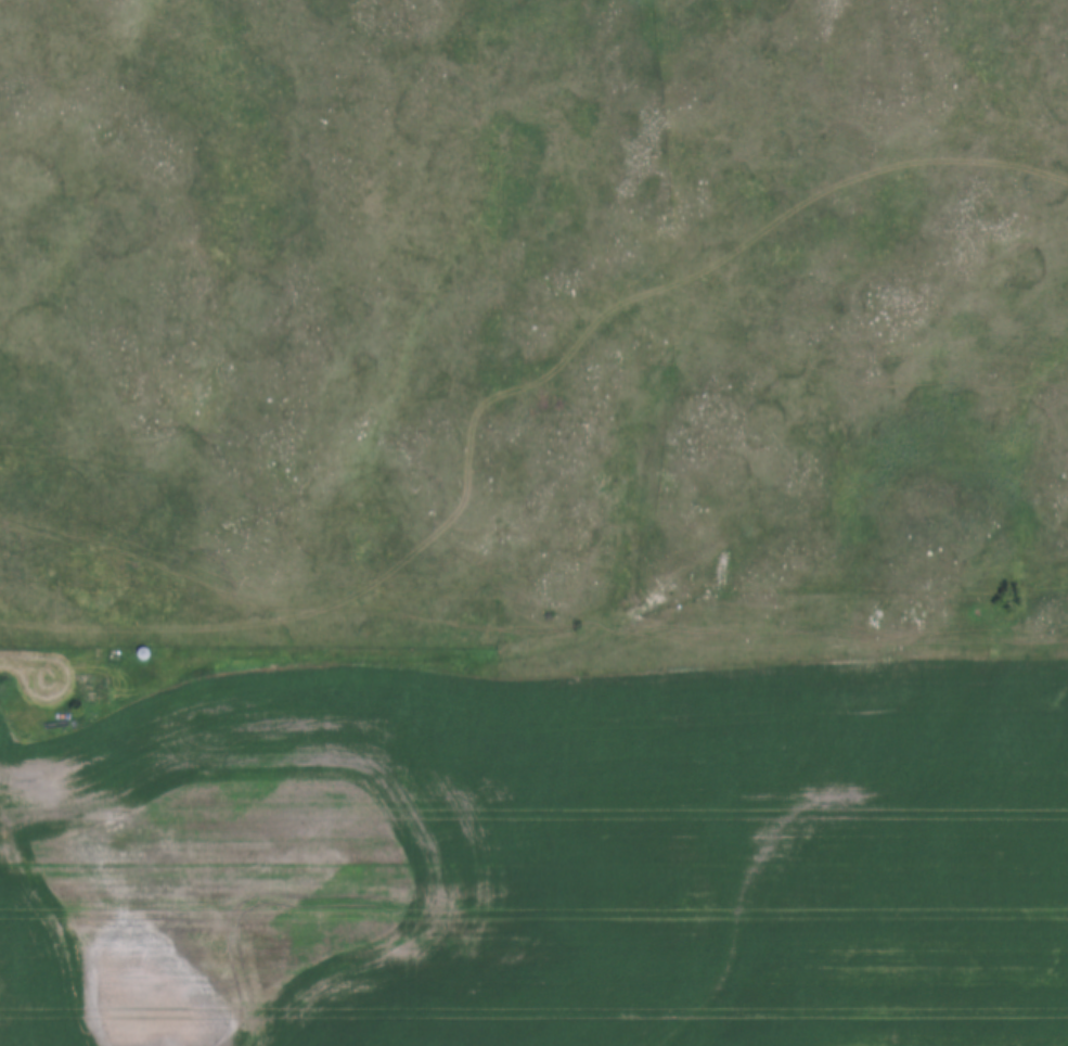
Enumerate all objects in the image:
crop: (548, 860)

